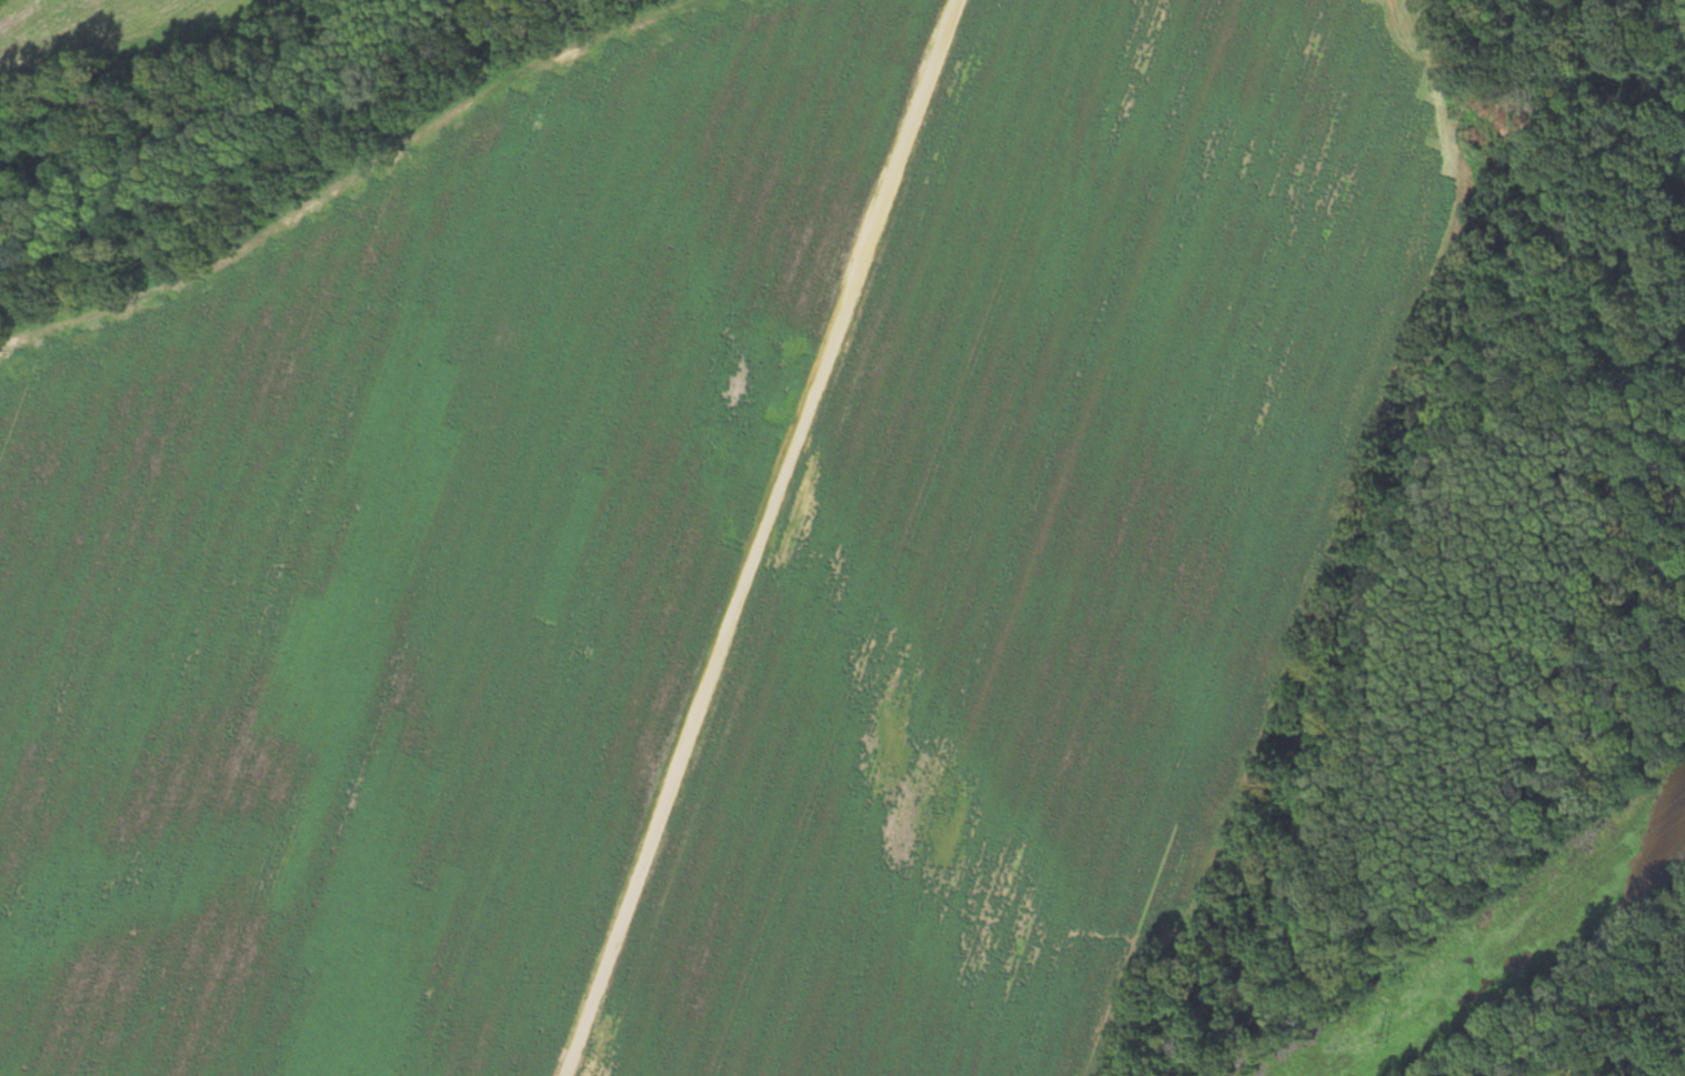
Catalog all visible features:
road: (756, 536)

